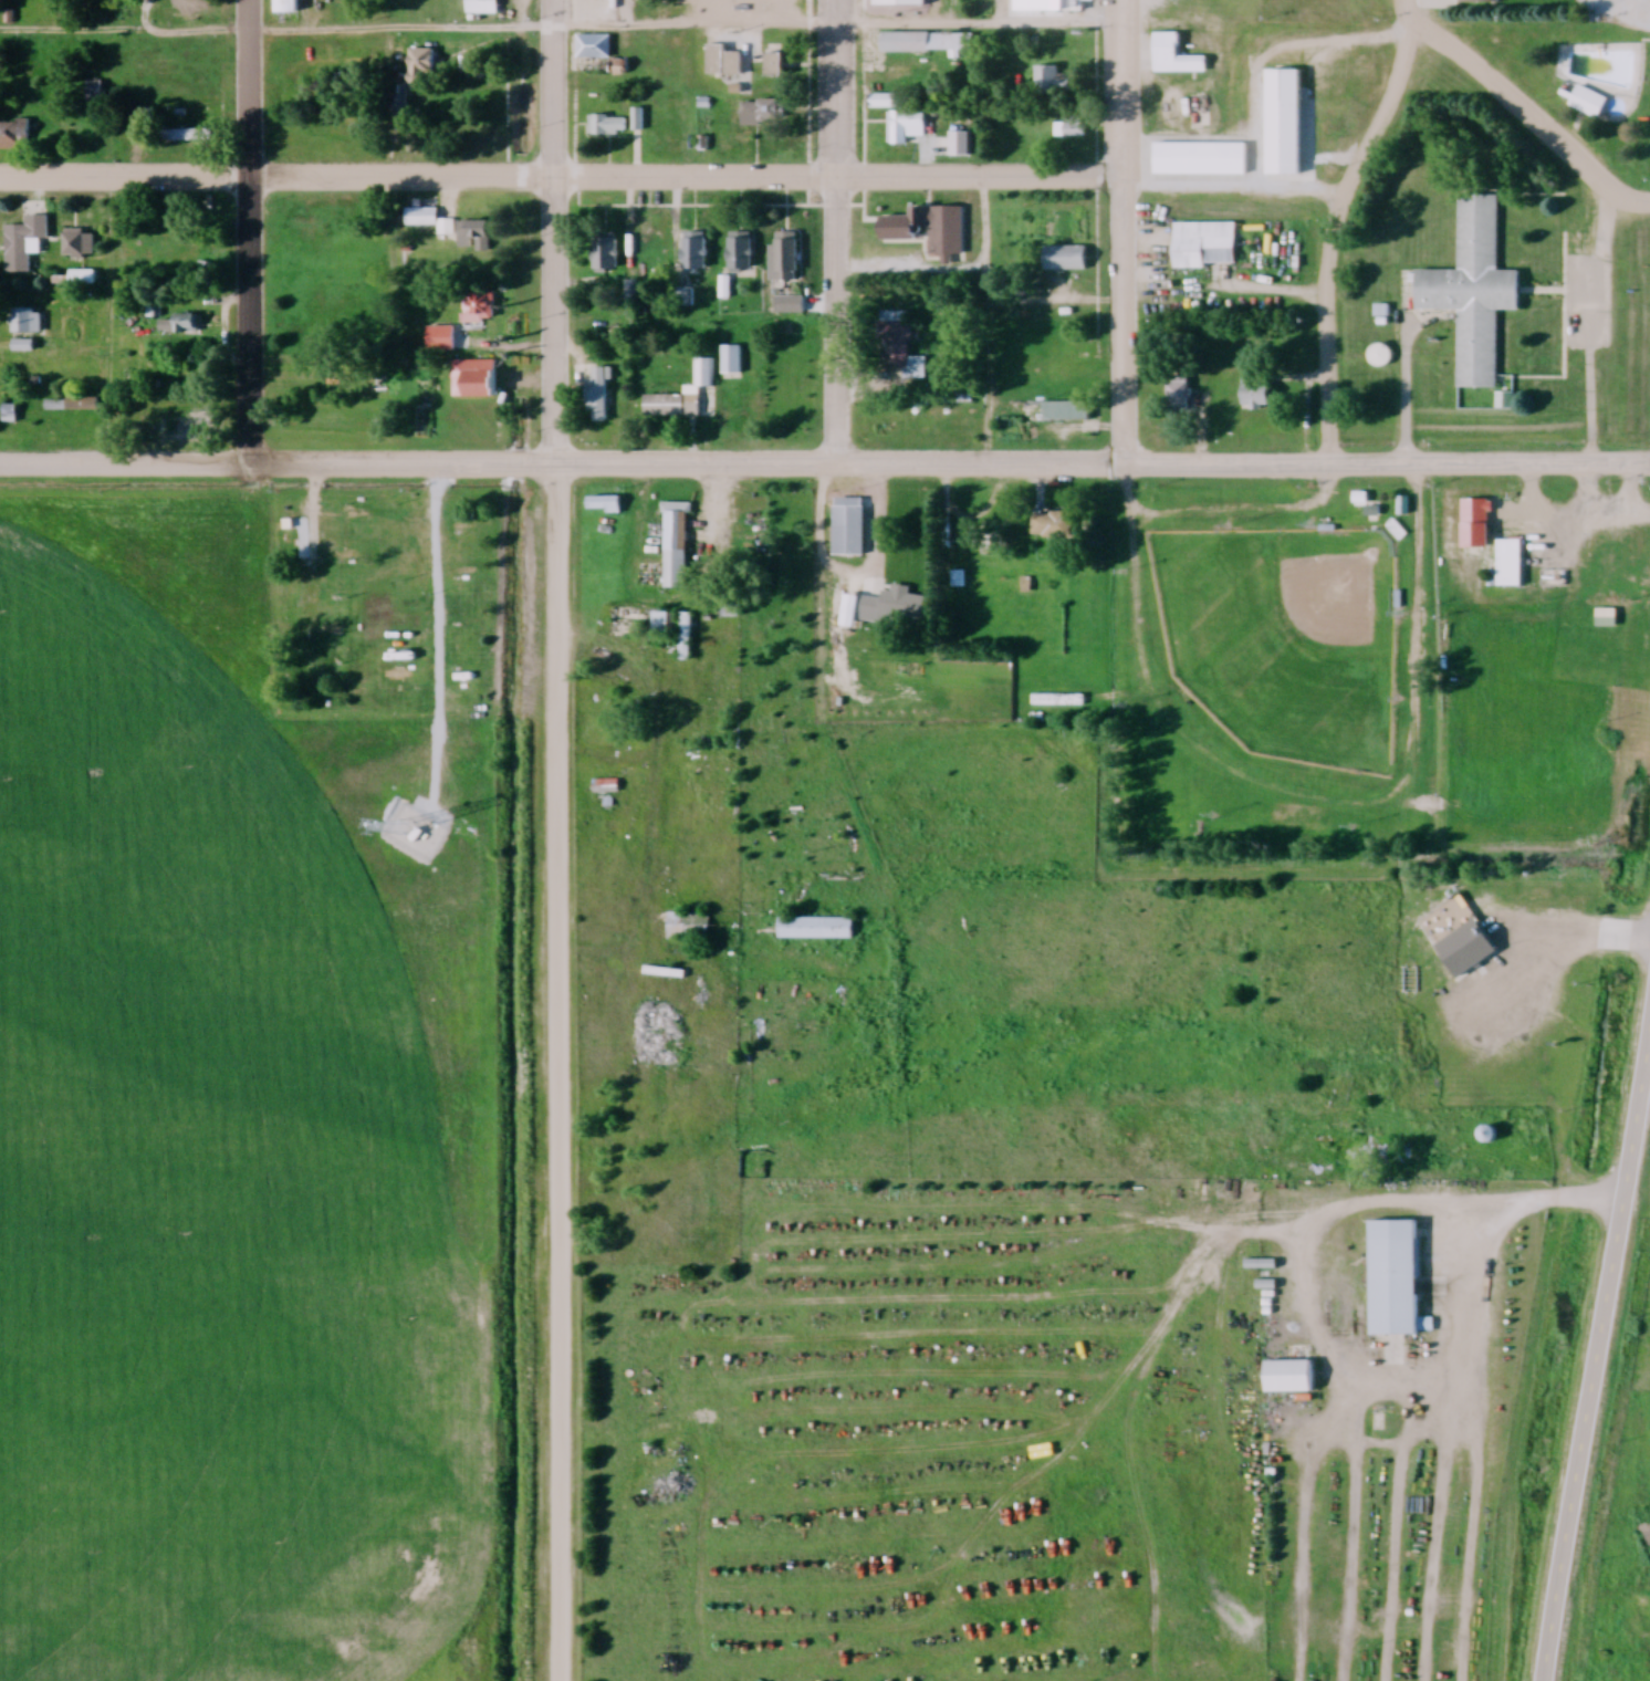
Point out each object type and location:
building: (1480, 2)
building: (901, 4)
building: (1052, 6)
building: (288, 7)
road: (561, 28)
building: (929, 44)
building: (595, 49)
building: (1176, 59)
building: (724, 63)
building: (422, 66)
building: (775, 66)
building: (1052, 84)
building: (95, 94)
building: (1586, 102)
building: (890, 103)
building: (763, 112)
road: (1518, 115)
building: (1285, 124)
building: (608, 127)
building: (907, 129)
building: (1072, 129)
building: (14, 137)
building: (186, 137)
road: (562, 179)
building: (430, 222)
building: (930, 232)
road: (250, 233)
road: (835, 233)
road: (1125, 233)
building: (478, 234)
road: (1334, 236)
building: (25, 246)
road: (989, 246)
building: (80, 247)
building: (1207, 247)
building: (696, 253)
building: (742, 255)
building: (607, 257)
building: (1067, 260)
building: (786, 261)
road: (912, 273)
building: (83, 280)
road: (1228, 289)
building: (1475, 293)
road: (1057, 301)
building: (785, 306)
building: (474, 312)
building: (27, 323)
road: (111, 325)
building: (187, 326)
building: (900, 351)
building: (1381, 357)
building: (732, 362)
building: (472, 389)
building: (1257, 394)
building: (601, 396)
building: (685, 397)
building: (1179, 398)
building: (1067, 413)
road: (824, 468)
building: (605, 507)
building: (1053, 528)
building: (850, 533)
building: (992, 540)
building: (678, 547)
building: (1611, 558)
building: (1511, 565)
building: (895, 613)
building: (1608, 619)
building: (686, 639)
park: (1285, 640)
road: (657, 776)
building: (607, 787)
road: (557, 839)
building: (689, 927)
building: (816, 929)
road: (700, 1056)
road: (1472, 1254)
building: (1397, 1280)
road: (1596, 1369)
building: (1291, 1377)

